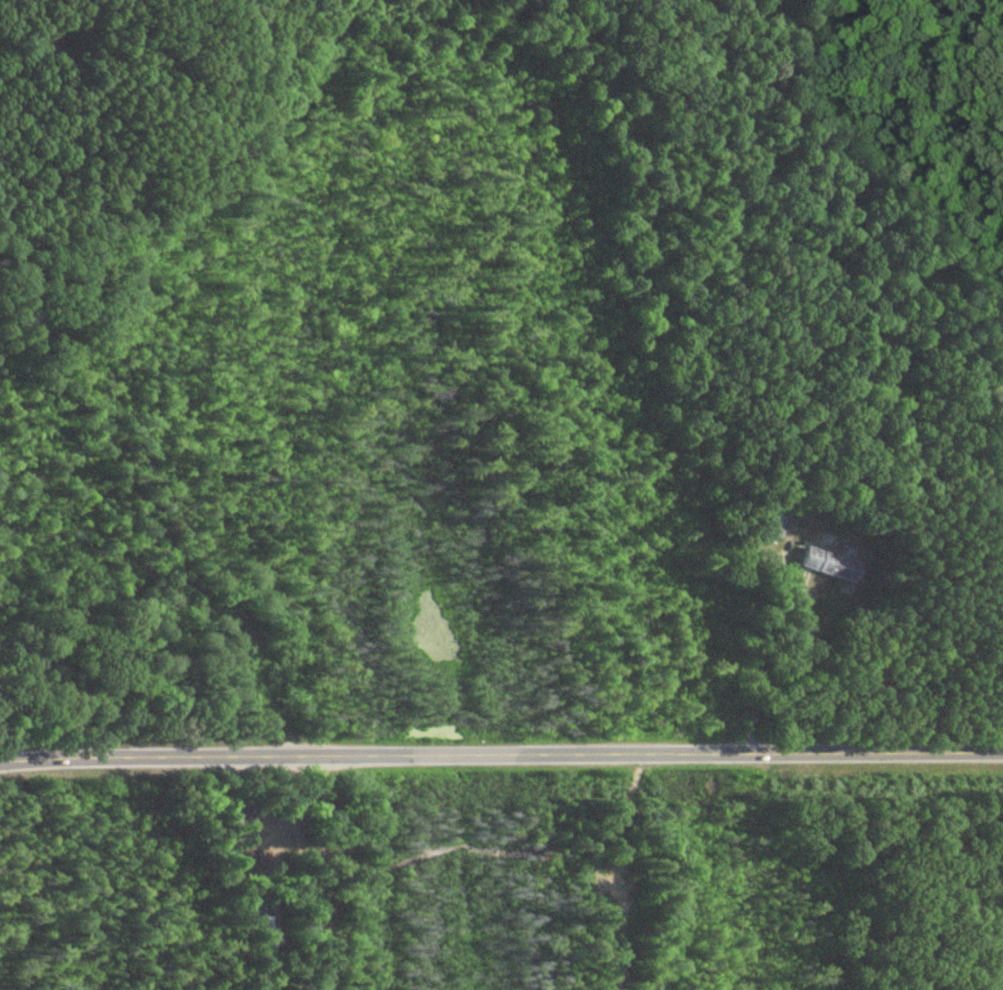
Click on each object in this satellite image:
building: (1000, 395)
building: (775, 526)
building: (829, 565)
road: (783, 579)
road: (784, 668)
road: (501, 754)
road: (267, 875)

